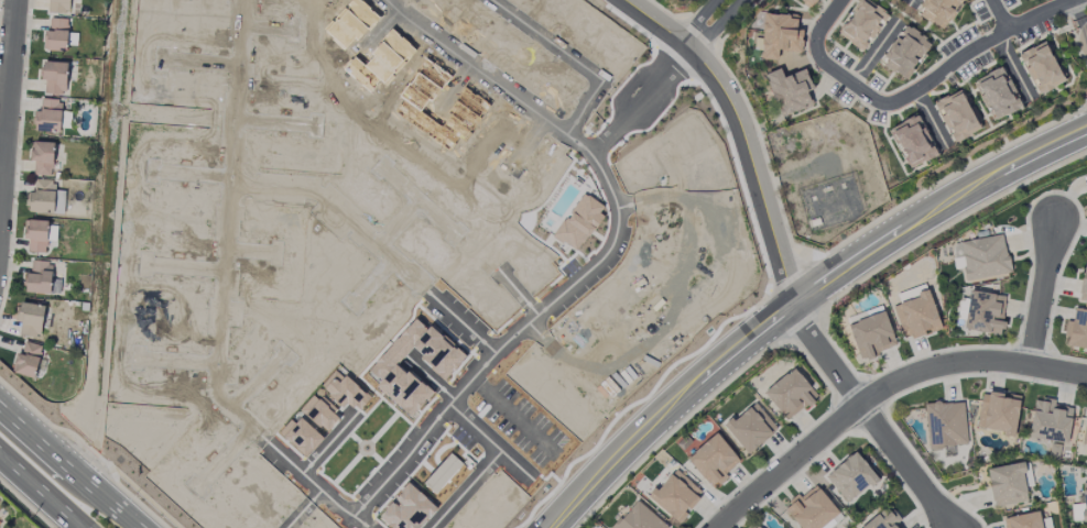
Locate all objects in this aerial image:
building: (900, 0)
road: (1086, 0)
building: (808, 2)
building: (58, 5)
road: (1080, 9)
building: (938, 11)
road: (1000, 15)
road: (697, 21)
road: (826, 22)
building: (862, 24)
road: (716, 26)
road: (1072, 31)
road: (729, 32)
road: (1085, 32)
building: (56, 35)
building: (780, 35)
building: (905, 53)
building: (1041, 68)
road: (939, 74)
building: (54, 77)
building: (790, 90)
building: (997, 94)
road: (7, 103)
building: (48, 116)
building: (956, 116)
road: (548, 121)
road: (741, 131)
building: (913, 141)
road: (1, 153)
building: (42, 157)
building: (45, 198)
road: (648, 200)
road: (935, 209)
road: (104, 218)
building: (36, 237)
road: (374, 244)
building: (985, 257)
road: (187, 268)
building: (39, 277)
road: (678, 279)
building: (1084, 284)
road: (1042, 293)
building: (985, 312)
road: (539, 315)
building: (917, 316)
building: (31, 318)
building: (1077, 331)
building: (871, 335)
building: (28, 360)
road: (181, 362)
road: (566, 363)
road: (257, 382)
road: (216, 385)
road: (881, 392)
building: (791, 394)
road: (665, 408)
building: (998, 413)
road: (36, 414)
road: (869, 417)
building: (1051, 421)
building: (946, 425)
building: (751, 428)
building: (1085, 433)
road: (491, 443)
road: (85, 458)
road: (224, 458)
building: (714, 460)
road: (68, 468)
building: (851, 477)
building: (1008, 484)
road: (464, 490)
road: (40, 492)
building: (676, 495)
road: (131, 496)
road: (25, 504)
building: (1080, 507)
building: (811, 509)
building: (639, 518)
building: (883, 519)
building: (1023, 520)
building: (0, 522)
road: (359, 525)
building: (756, 527)

